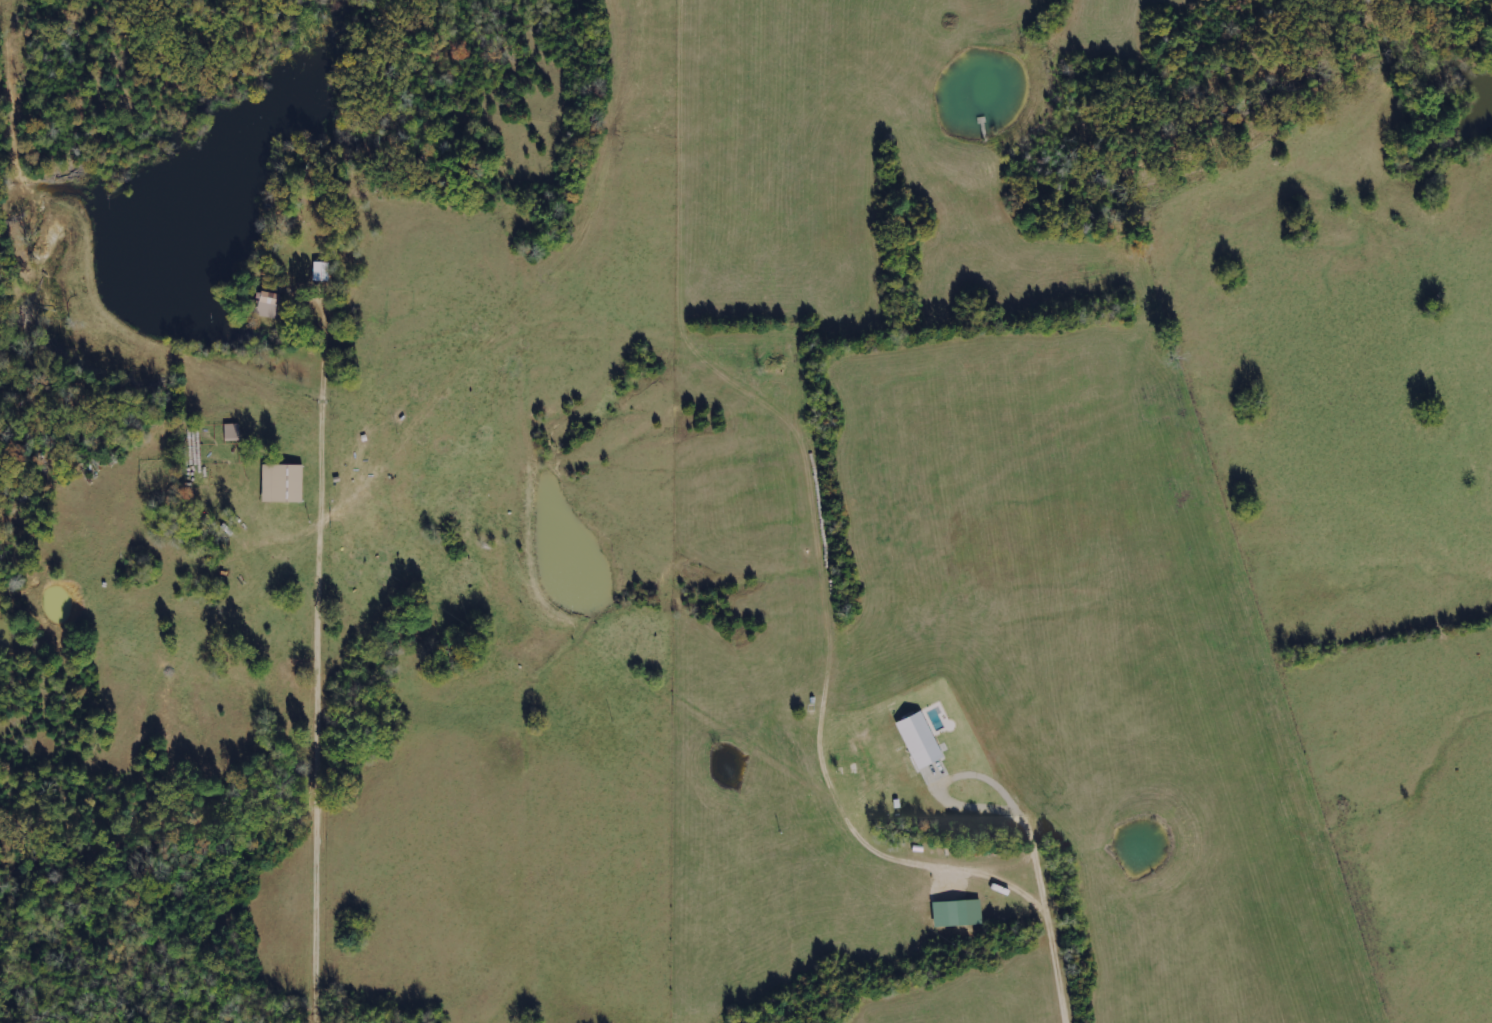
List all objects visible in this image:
park: (1462, 18)
building: (266, 297)
building: (266, 310)
building: (231, 431)
building: (919, 739)
building: (949, 914)

